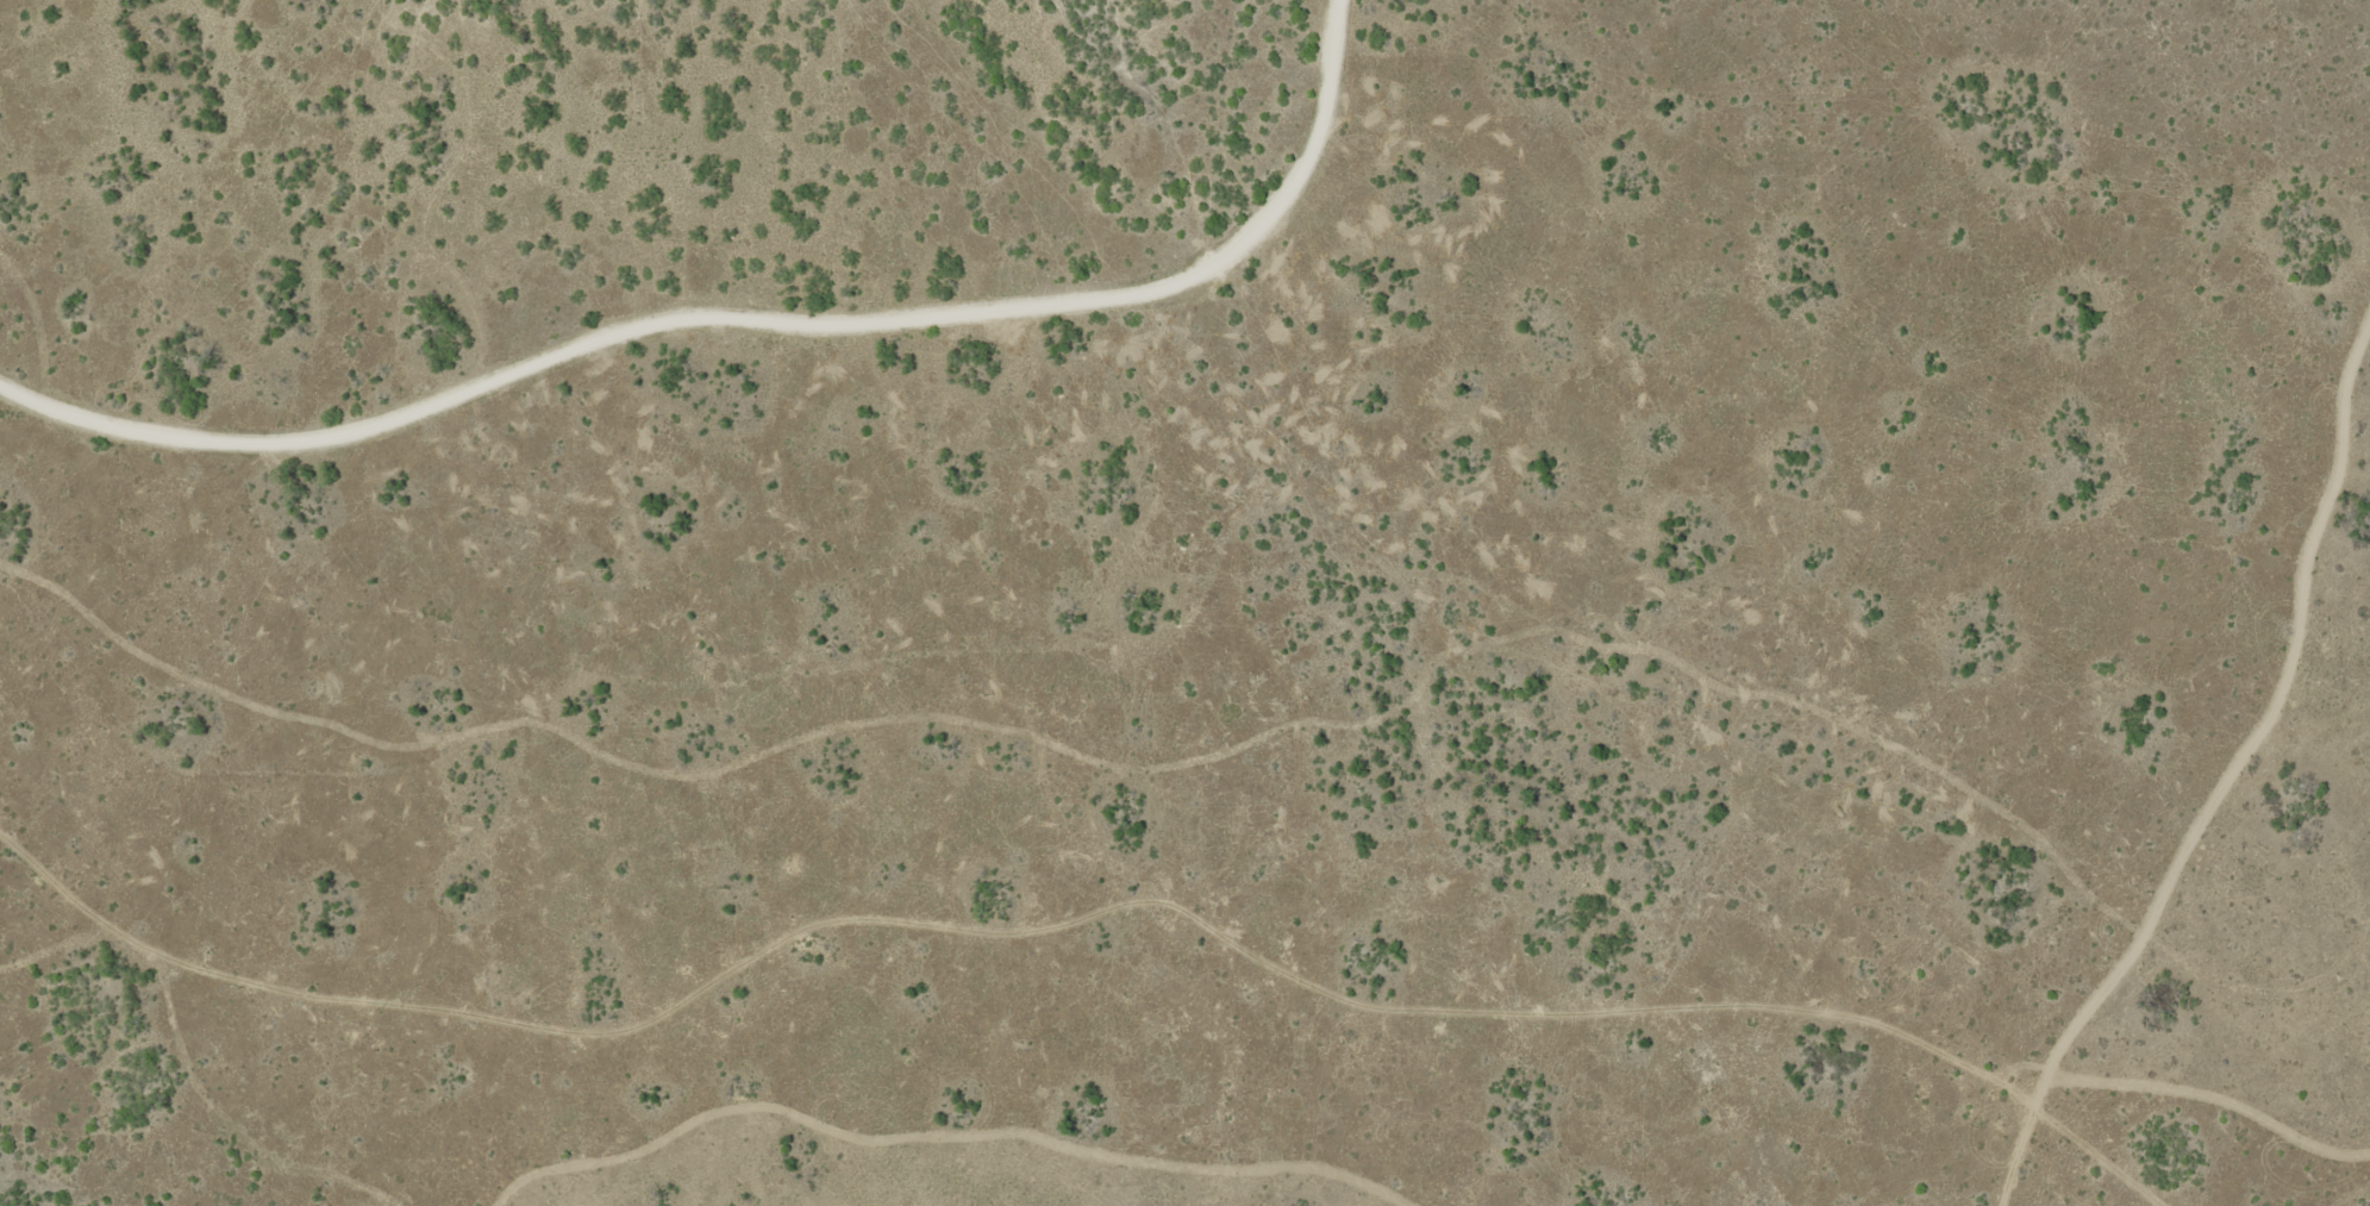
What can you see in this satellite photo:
road: (748, 321)

